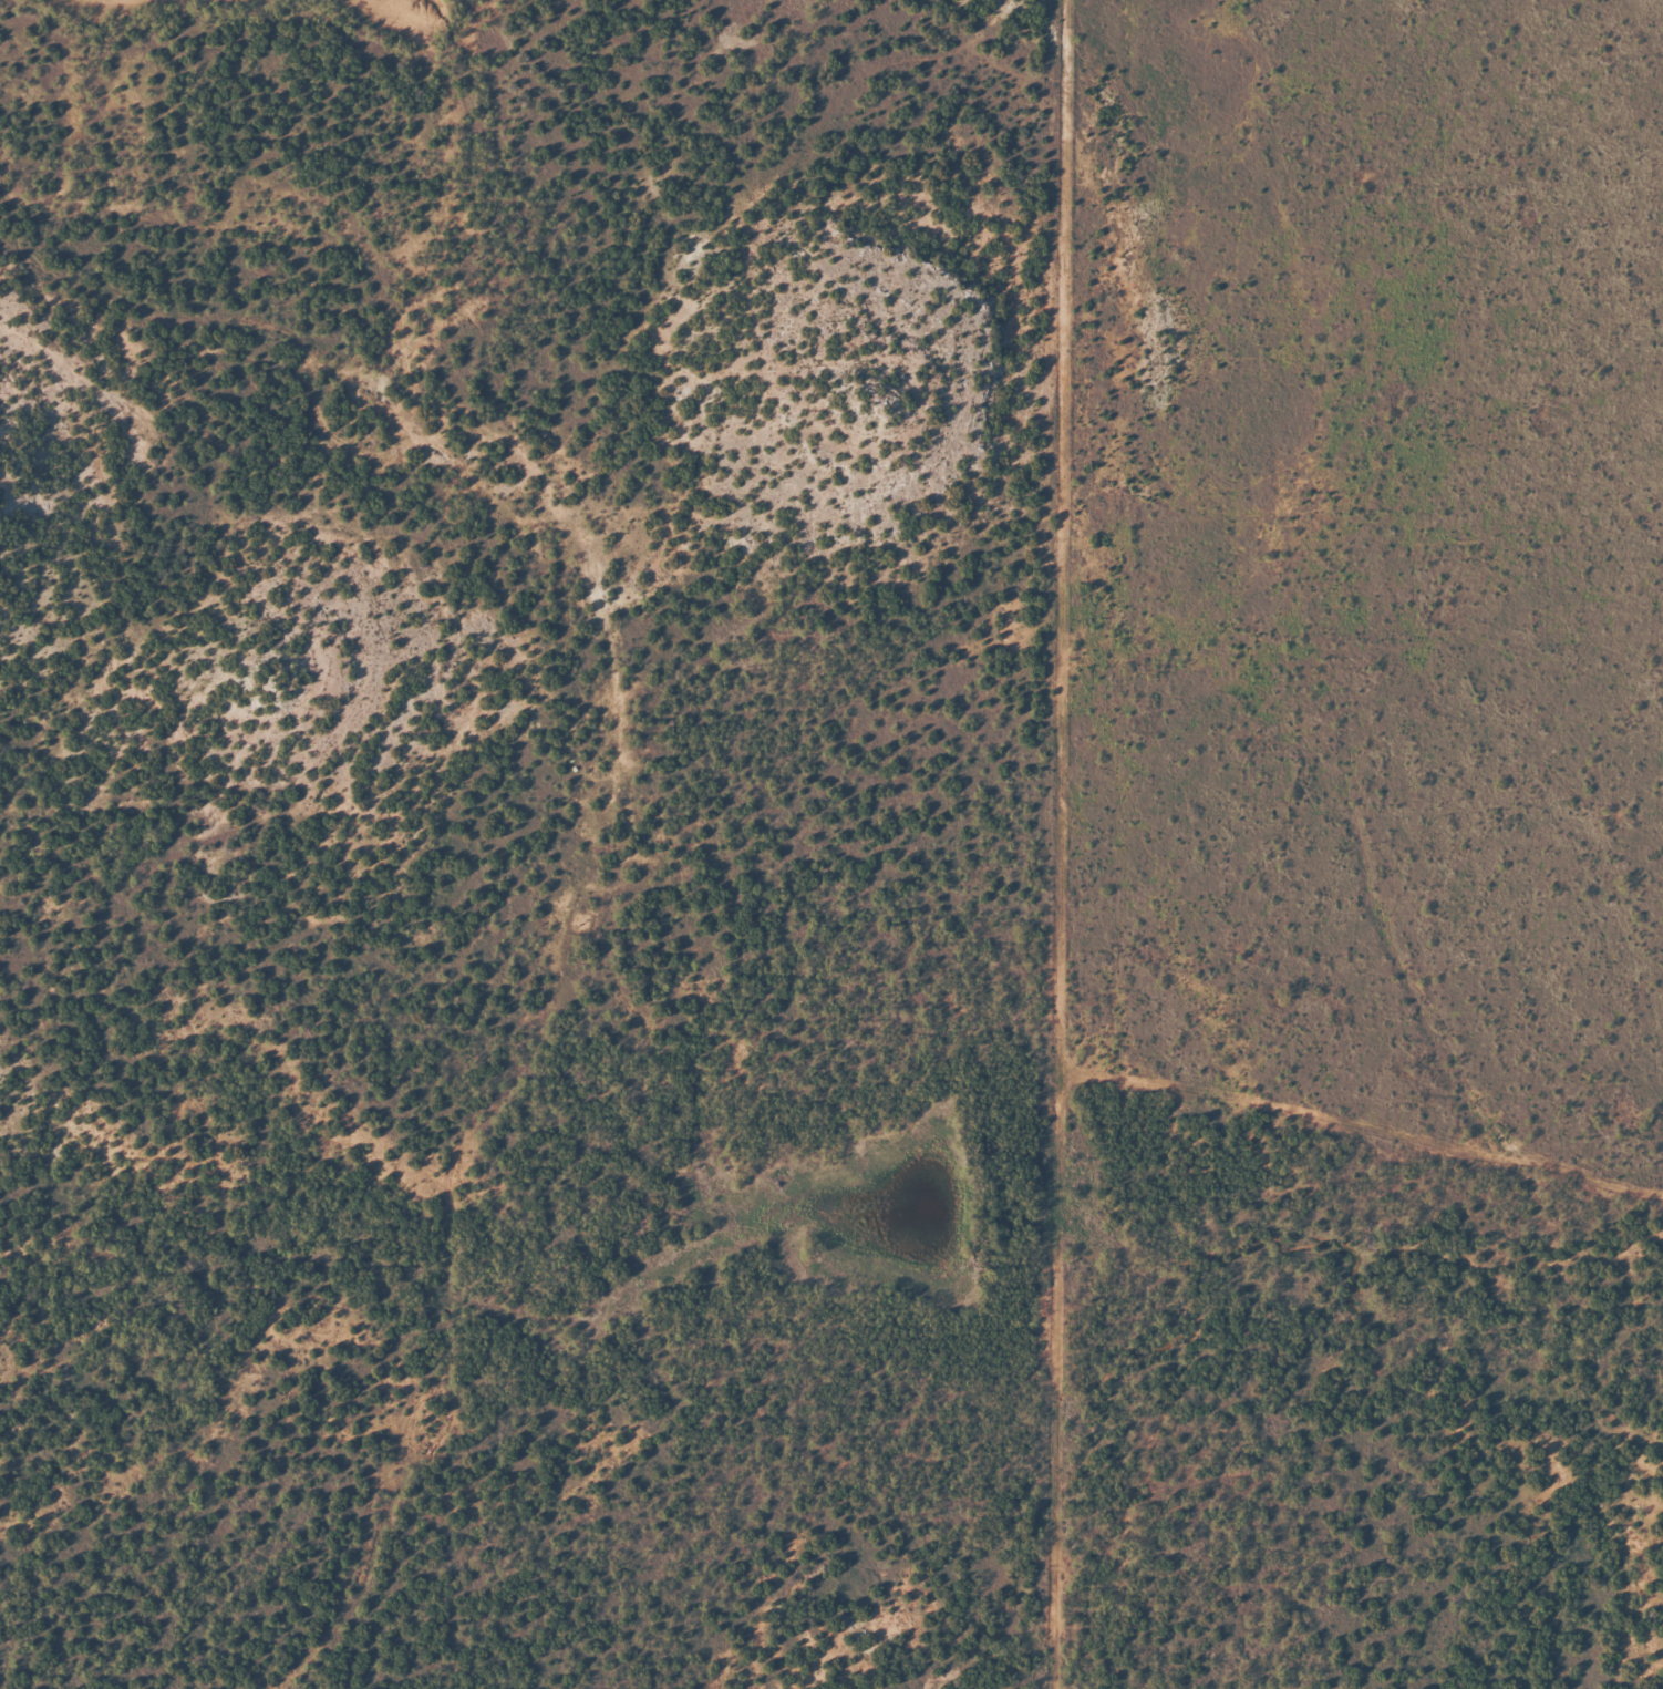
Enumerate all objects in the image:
road: (796, 255)
road: (326, 380)
road: (535, 1133)

